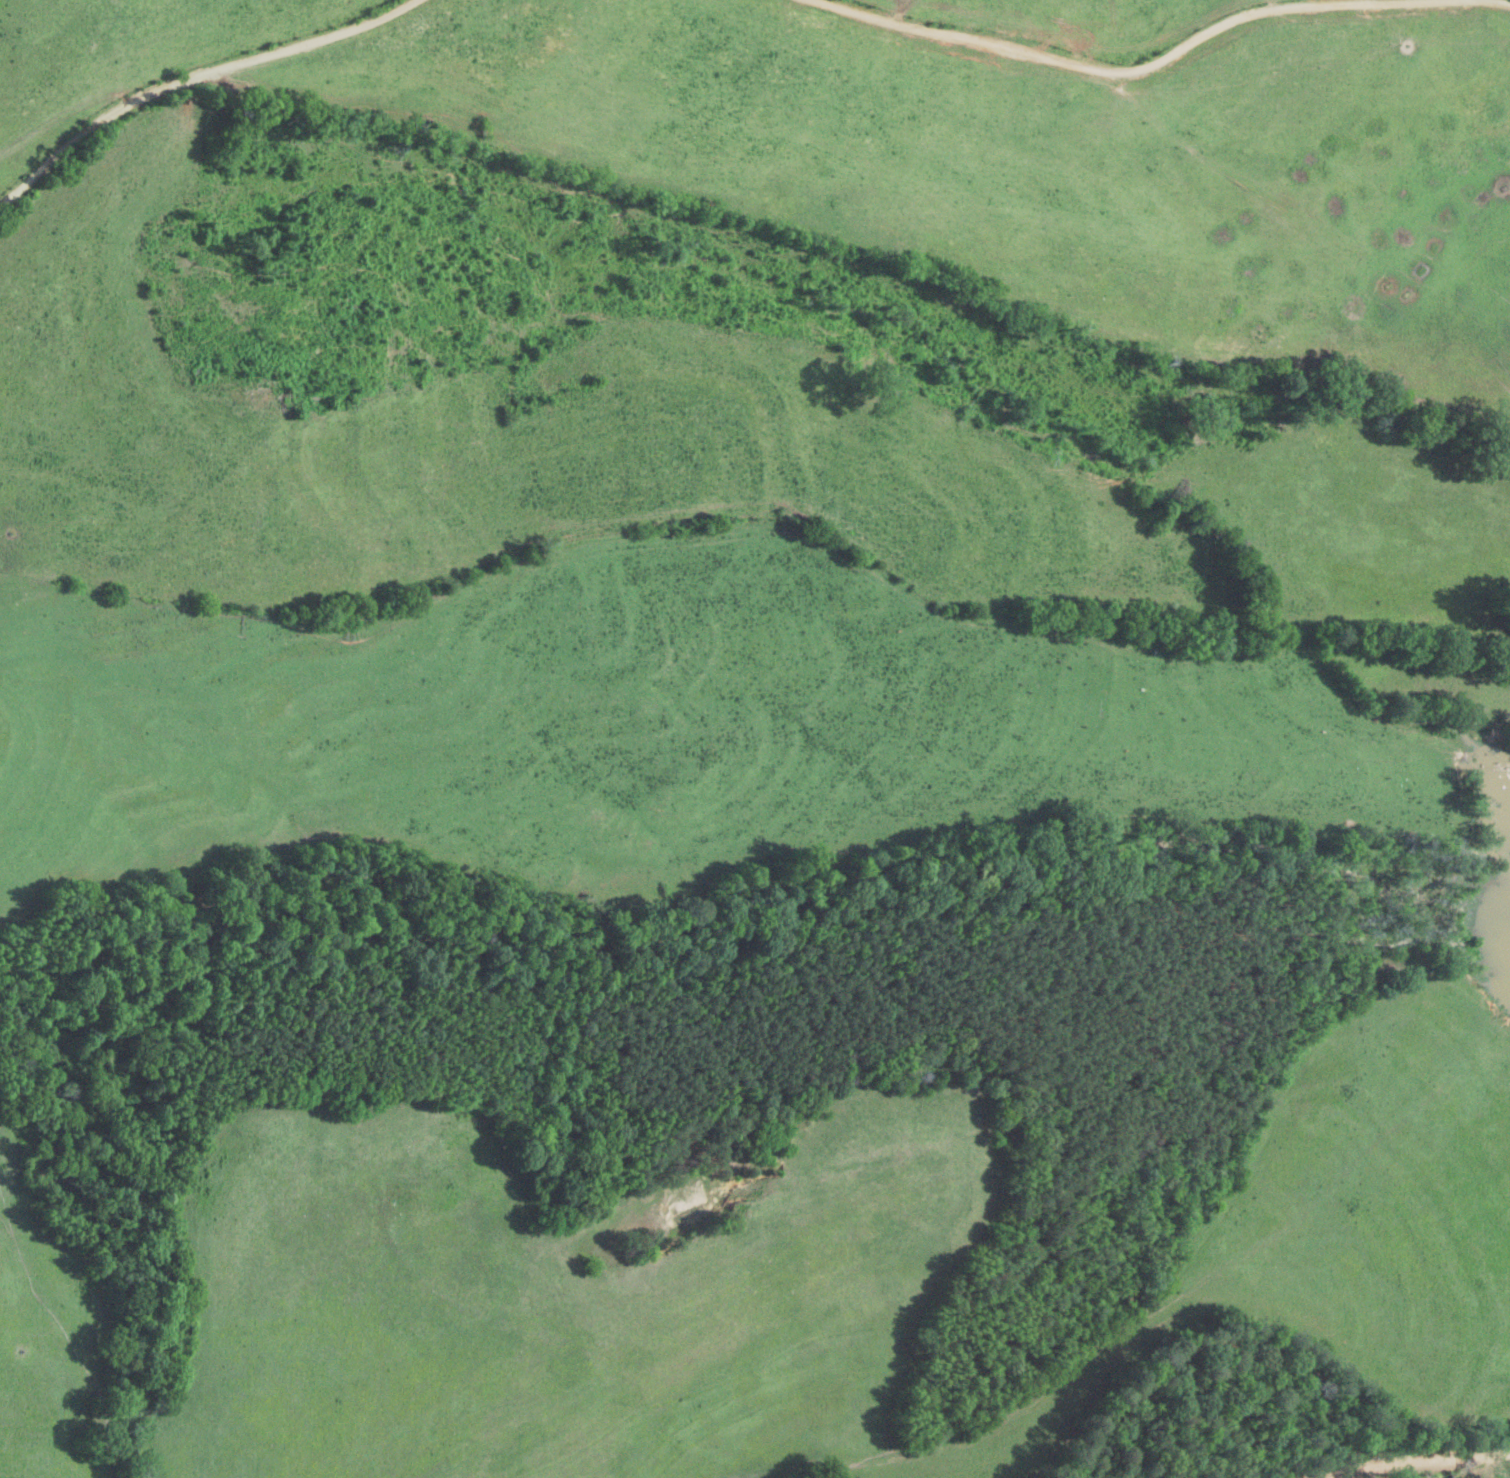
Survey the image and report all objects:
road: (1473, 1)
road: (1101, 69)
road: (179, 83)
road: (781, 767)

